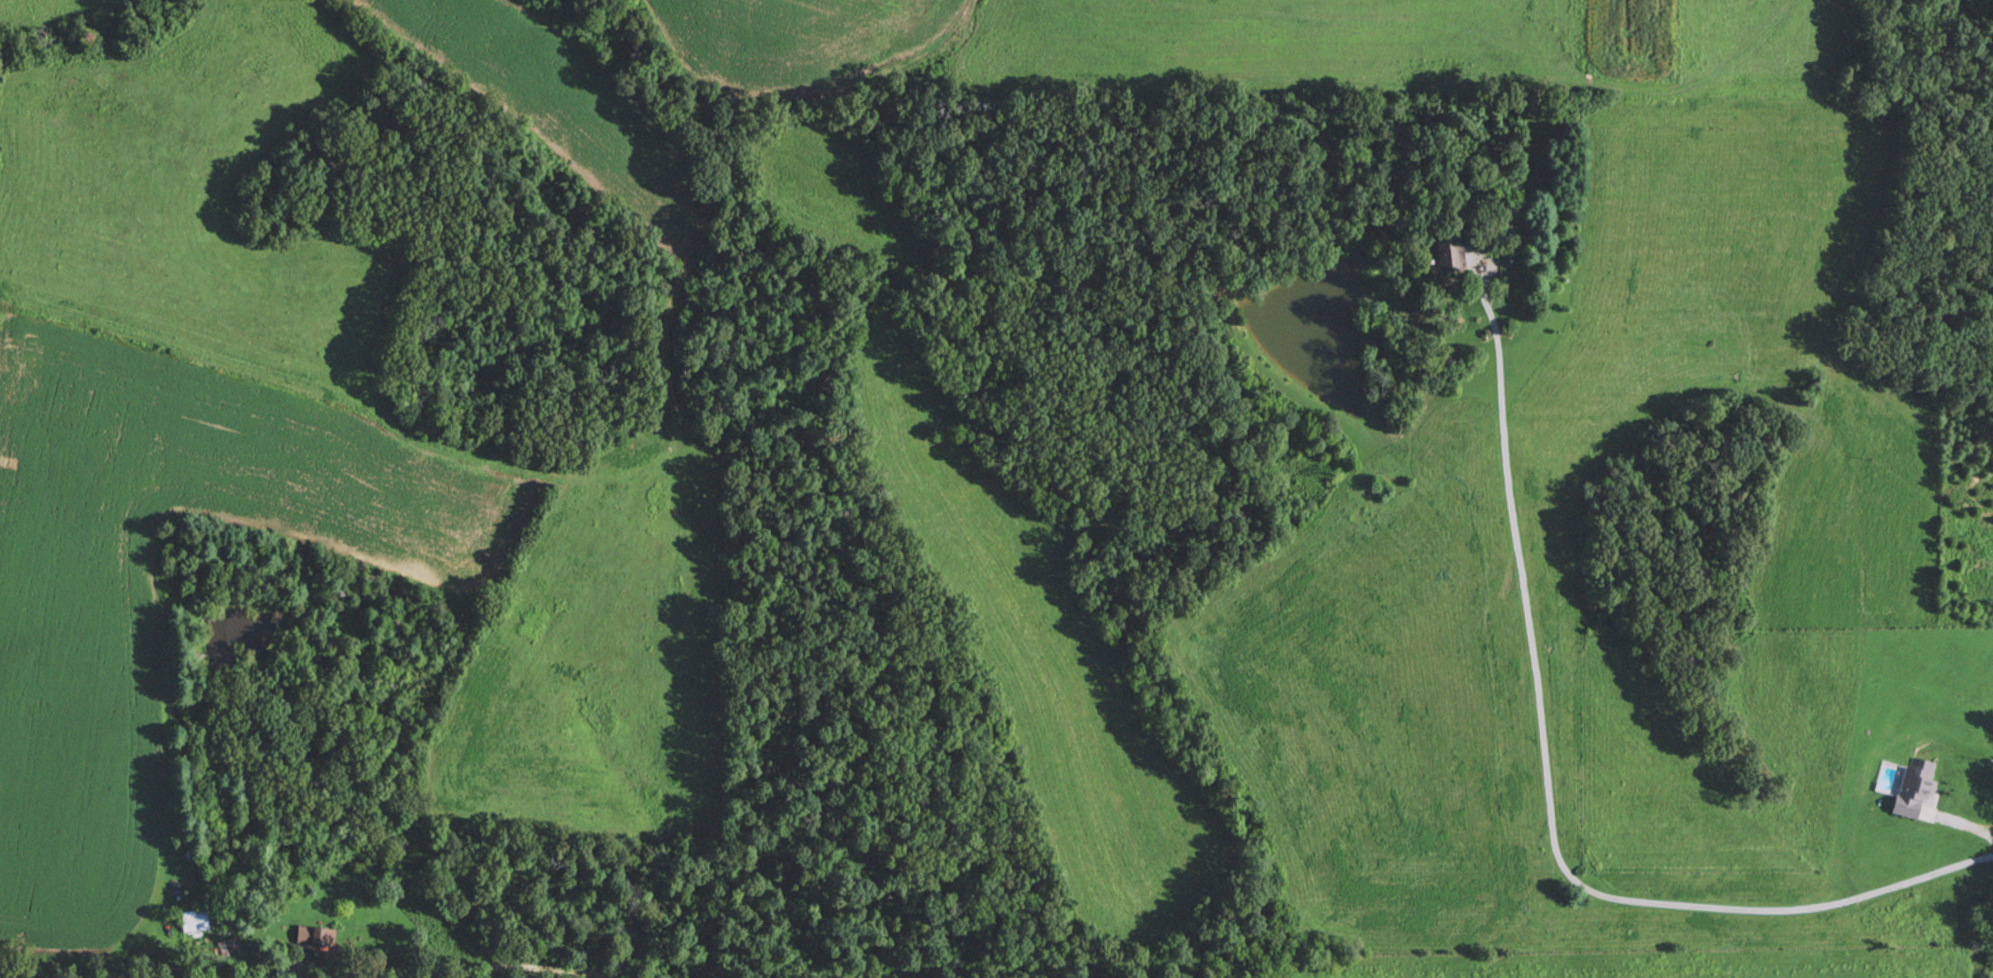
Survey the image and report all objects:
building: (1455, 250)
road: (1281, 638)
building: (1908, 793)
road: (1553, 805)
building: (197, 920)
building: (318, 936)
road: (1761, 953)

